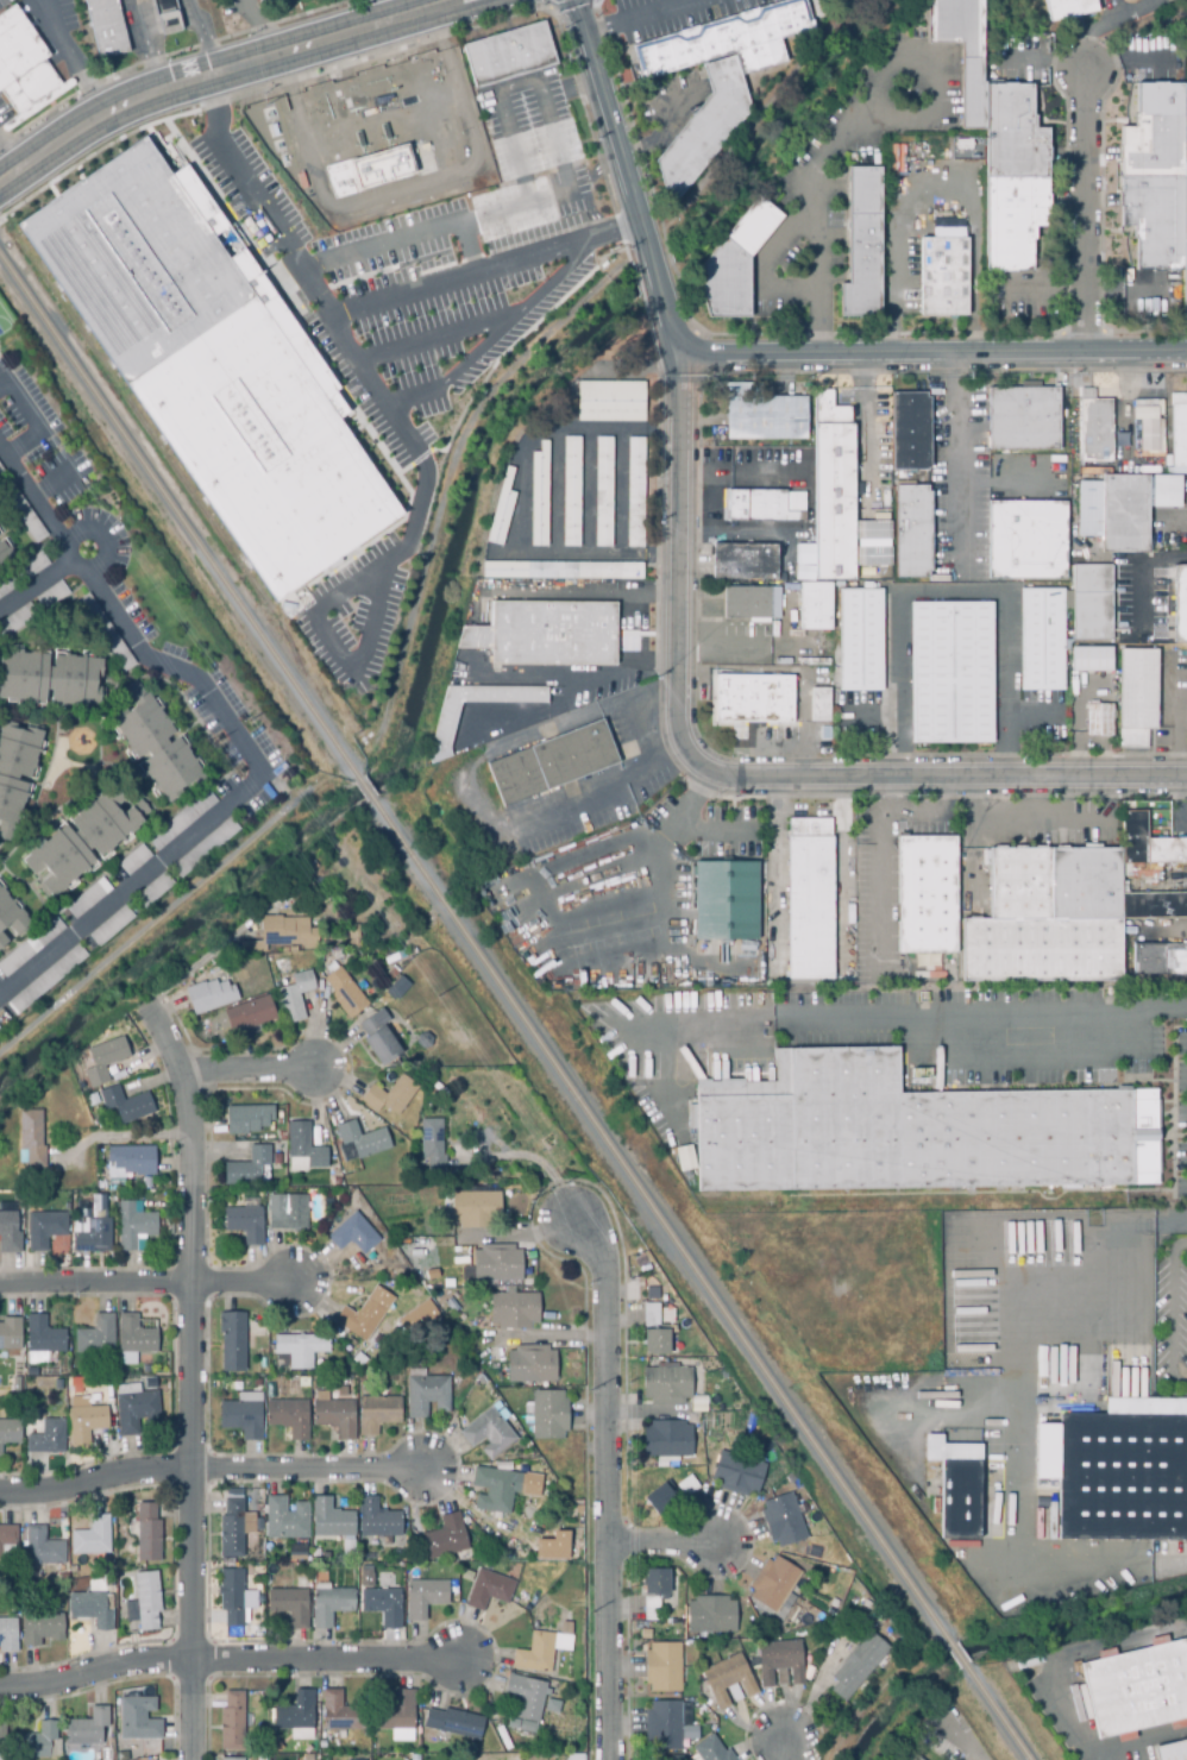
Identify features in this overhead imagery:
building: (268, 2)
road: (240, 4)
building: (1068, 8)
road: (390, 11)
road: (643, 15)
building: (167, 17)
road: (586, 20)
building: (106, 29)
road: (199, 38)
building: (727, 42)
road: (146, 46)
building: (961, 50)
building: (509, 56)
road: (70, 61)
road: (1084, 63)
building: (24, 70)
road: (222, 73)
road: (872, 95)
road: (760, 126)
building: (703, 130)
road: (11, 155)
building: (365, 172)
building: (1013, 178)
road: (943, 181)
building: (1155, 182)
road: (404, 189)
road: (565, 189)
road: (1082, 216)
building: (862, 246)
road: (466, 247)
parking lot: (428, 263)
building: (734, 265)
road: (488, 266)
road: (765, 275)
building: (943, 277)
road: (1045, 291)
road: (516, 310)
road: (438, 339)
road: (775, 351)
building: (213, 365)
road: (416, 395)
building: (610, 403)
building: (762, 415)
road: (33, 417)
building: (1023, 420)
building: (1148, 425)
building: (1093, 427)
building: (909, 433)
building: (1177, 436)
road: (419, 439)
power tower: (59, 446)
road: (4, 450)
road: (868, 459)
power tower: (23, 460)
road: (961, 461)
building: (1, 472)
road: (726, 476)
road: (54, 483)
building: (570, 492)
building: (1163, 492)
road: (557, 494)
road: (588, 494)
building: (603, 494)
road: (623, 494)
building: (634, 494)
building: (831, 494)
building: (539, 497)
building: (766, 507)
road: (42, 508)
building: (501, 511)
building: (1112, 513)
building: (23, 515)
railway: (178, 518)
road: (516, 526)
building: (912, 533)
road: (108, 535)
road: (750, 536)
building: (1026, 541)
building: (4, 554)
building: (743, 562)
road: (1137, 566)
building: (31, 567)
building: (560, 572)
building: (6, 585)
road: (603, 590)
road: (954, 592)
building: (51, 597)
building: (1092, 603)
building: (750, 604)
building: (1180, 605)
building: (815, 608)
parking lot: (350, 612)
building: (17, 622)
building: (105, 634)
building: (546, 635)
building: (860, 641)
building: (1041, 641)
building: (1088, 658)
building: (950, 673)
road: (627, 678)
building: (50, 680)
building: (1097, 689)
road: (652, 696)
building: (1136, 697)
building: (753, 699)
building: (818, 706)
road: (1034, 718)
power tower: (246, 719)
road: (634, 722)
building: (1098, 722)
building: (445, 727)
road: (662, 737)
power tower: (212, 741)
building: (155, 746)
road: (243, 761)
building: (551, 763)
building: (14, 772)
road: (733, 773)
railway: (364, 790)
road: (476, 803)
road: (1177, 807)
road: (918, 816)
building: (182, 822)
road: (1042, 829)
road: (711, 834)
road: (973, 840)
building: (83, 841)
road: (622, 842)
building: (1148, 843)
road: (844, 847)
building: (203, 848)
building: (134, 861)
road: (883, 873)
road: (777, 875)
road: (596, 881)
building: (153, 891)
building: (925, 897)
building: (88, 899)
building: (723, 899)
building: (809, 900)
road: (609, 901)
building: (11, 917)
building: (1055, 917)
building: (111, 926)
building: (282, 934)
road: (591, 939)
building: (2, 942)
road: (664, 943)
building: (31, 947)
building: (1160, 958)
road: (197, 963)
road: (604, 968)
building: (46, 980)
building: (400, 983)
building: (344, 993)
building: (209, 997)
power tower: (438, 997)
building: (294, 998)
building: (250, 1014)
power tower: (402, 1016)
building: (378, 1038)
road: (917, 1044)
building: (103, 1061)
road: (250, 1070)
road: (671, 1079)
building: (390, 1096)
building: (126, 1106)
building: (247, 1119)
building: (912, 1132)
road: (115, 1136)
building: (31, 1139)
building: (363, 1140)
building: (433, 1149)
building: (303, 1150)
building: (685, 1157)
building: (131, 1162)
road: (542, 1168)
building: (249, 1169)
power tower: (560, 1182)
power tower: (561, 1182)
power tower: (529, 1201)
building: (476, 1211)
road: (588, 1211)
building: (289, 1214)
railway: (660, 1221)
building: (245, 1225)
road: (1174, 1225)
building: (134, 1228)
building: (45, 1230)
road: (517, 1233)
building: (8, 1234)
building: (353, 1236)
building: (94, 1238)
building: (497, 1264)
road: (1104, 1265)
road: (147, 1283)
road: (616, 1284)
power tower: (624, 1286)
building: (651, 1293)
road: (1168, 1308)
building: (514, 1310)
building: (416, 1318)
building: (359, 1320)
building: (654, 1333)
building: (10, 1334)
building: (95, 1337)
road: (549, 1339)
building: (133, 1340)
building: (43, 1341)
building: (232, 1343)
building: (297, 1351)
building: (530, 1365)
building: (146, 1370)
building: (31, 1374)
building: (18, 1375)
road: (187, 1379)
building: (150, 1382)
building: (303, 1383)
building: (667, 1385)
power tower: (586, 1389)
building: (427, 1396)
building: (134, 1409)
building: (377, 1414)
building: (548, 1415)
building: (243, 1416)
building: (289, 1418)
building: (335, 1419)
road: (1019, 1421)
building: (86, 1423)
building: (10, 1433)
building: (489, 1434)
building: (48, 1439)
building: (667, 1440)
road: (214, 1471)
building: (1125, 1473)
building: (736, 1475)
building: (502, 1486)
road: (607, 1489)
building: (959, 1489)
building: (670, 1496)
building: (285, 1520)
building: (331, 1521)
building: (377, 1521)
building: (783, 1521)
building: (232, 1529)
building: (147, 1534)
building: (92, 1538)
building: (446, 1539)
building: (7, 1544)
building: (553, 1546)
road: (661, 1547)
building: (43, 1548)
building: (401, 1554)
building: (296, 1557)
road: (1076, 1564)
building: (366, 1571)
building: (466, 1573)
building: (773, 1585)
building: (489, 1591)
building: (658, 1594)
building: (232, 1597)
building: (423, 1598)
building: (145, 1602)
building: (332, 1603)
building: (291, 1605)
building: (383, 1607)
building: (92, 1609)
power tower: (590, 1611)
building: (711, 1615)
building: (42, 1629)
building: (8, 1636)
power tower: (627, 1649)
building: (540, 1653)
railway: (957, 1654)
road: (1062, 1660)
building: (779, 1662)
road: (231, 1664)
building: (858, 1667)
building: (662, 1668)
building: (726, 1680)
building: (1137, 1692)
building: (526, 1698)
building: (552, 1708)
railway: (997, 1712)
building: (340, 1714)
building: (396, 1714)
building: (296, 1717)
building: (139, 1720)
building: (234, 1722)
building: (454, 1724)
building: (664, 1726)
building: (87, 1728)
building: (527, 1728)
road: (961, 1733)
building: (2, 1740)
building: (373, 1742)
building: (34, 1743)
building: (276, 1747)
road: (784, 1748)
road: (1144, 1748)
building: (711, 1750)
building: (1180, 1752)
building: (574, 1756)
building: (905, 1756)
building: (231, 1758)
building: (356, 1759)

